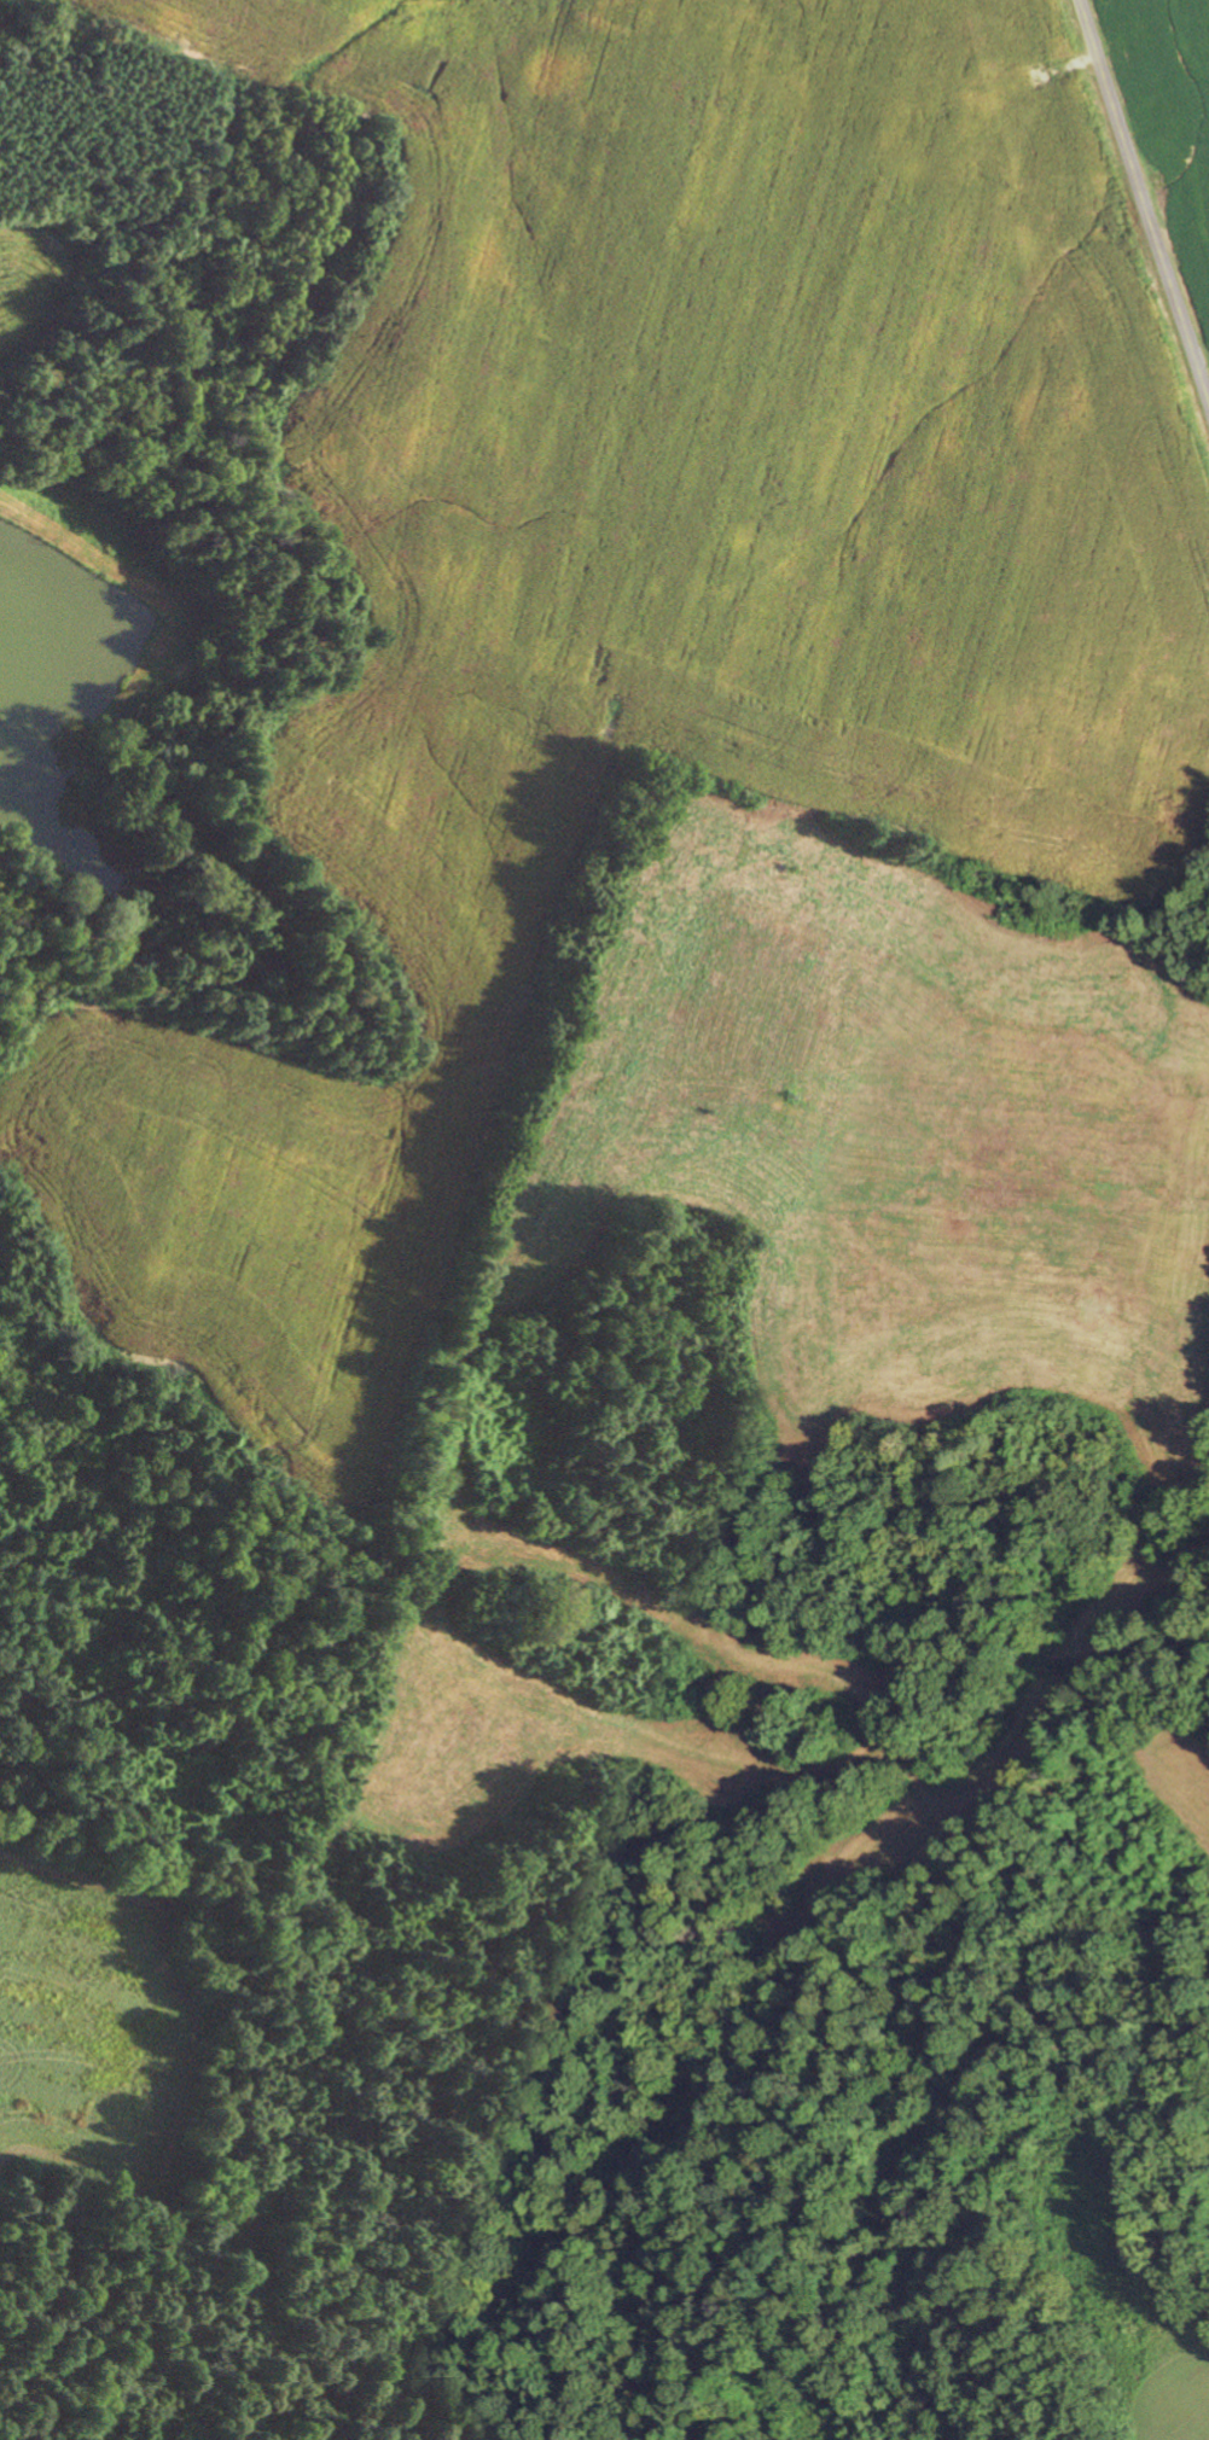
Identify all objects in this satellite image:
road: (1158, 53)
road: (1146, 199)

